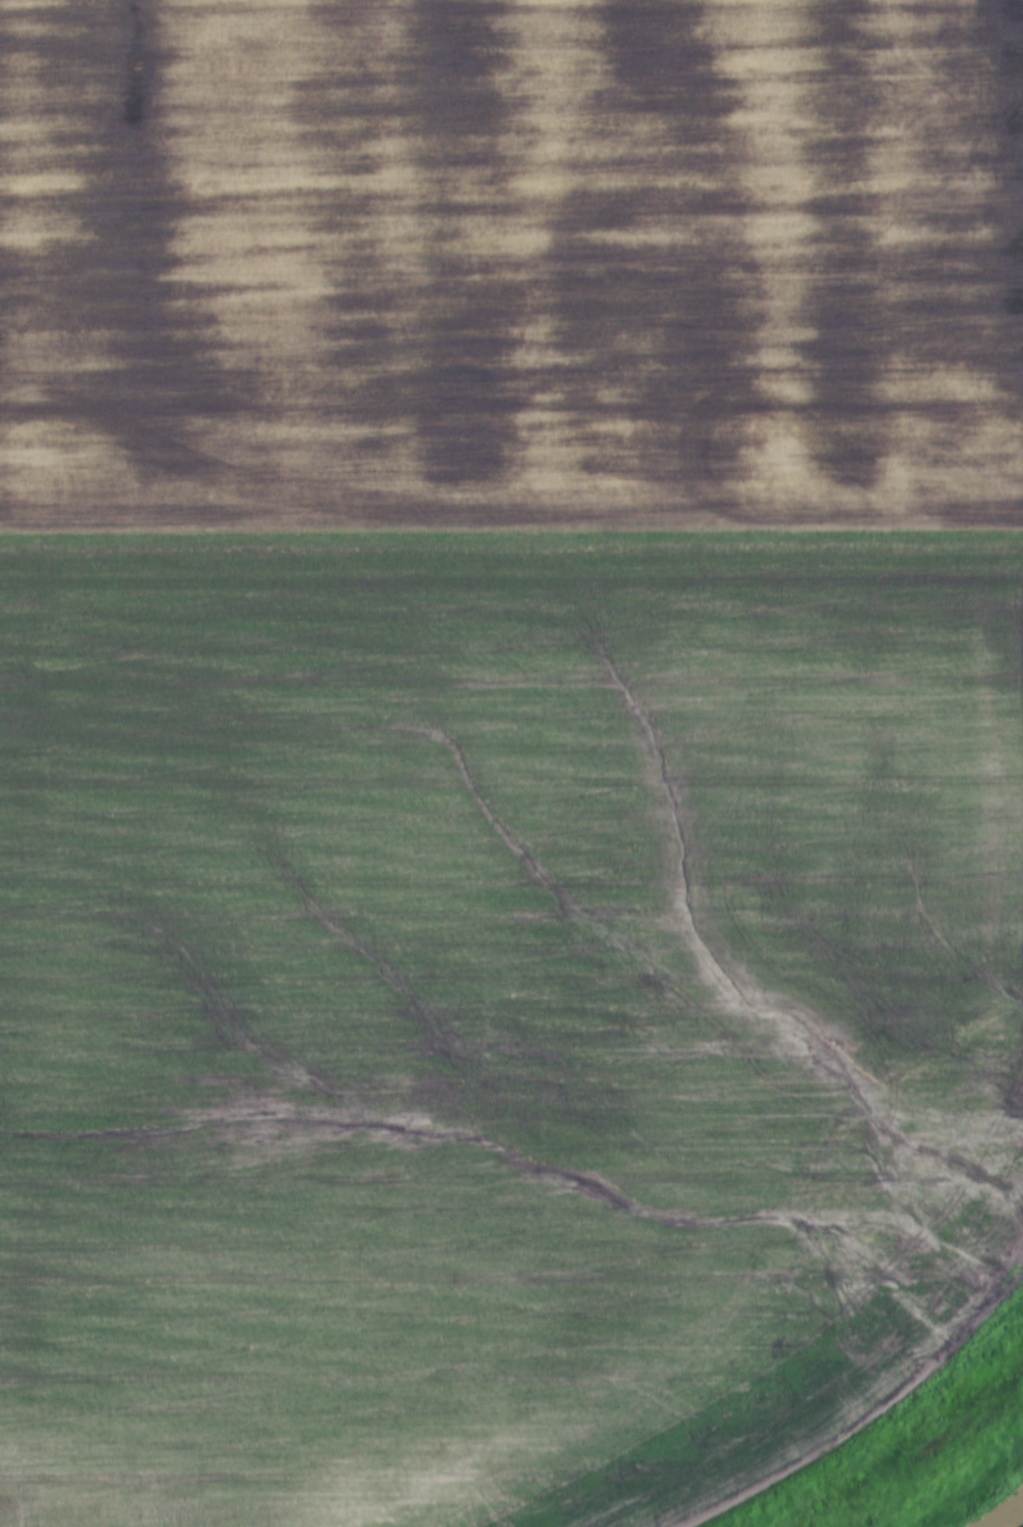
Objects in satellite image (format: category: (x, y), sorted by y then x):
river: (1017, 1520)

